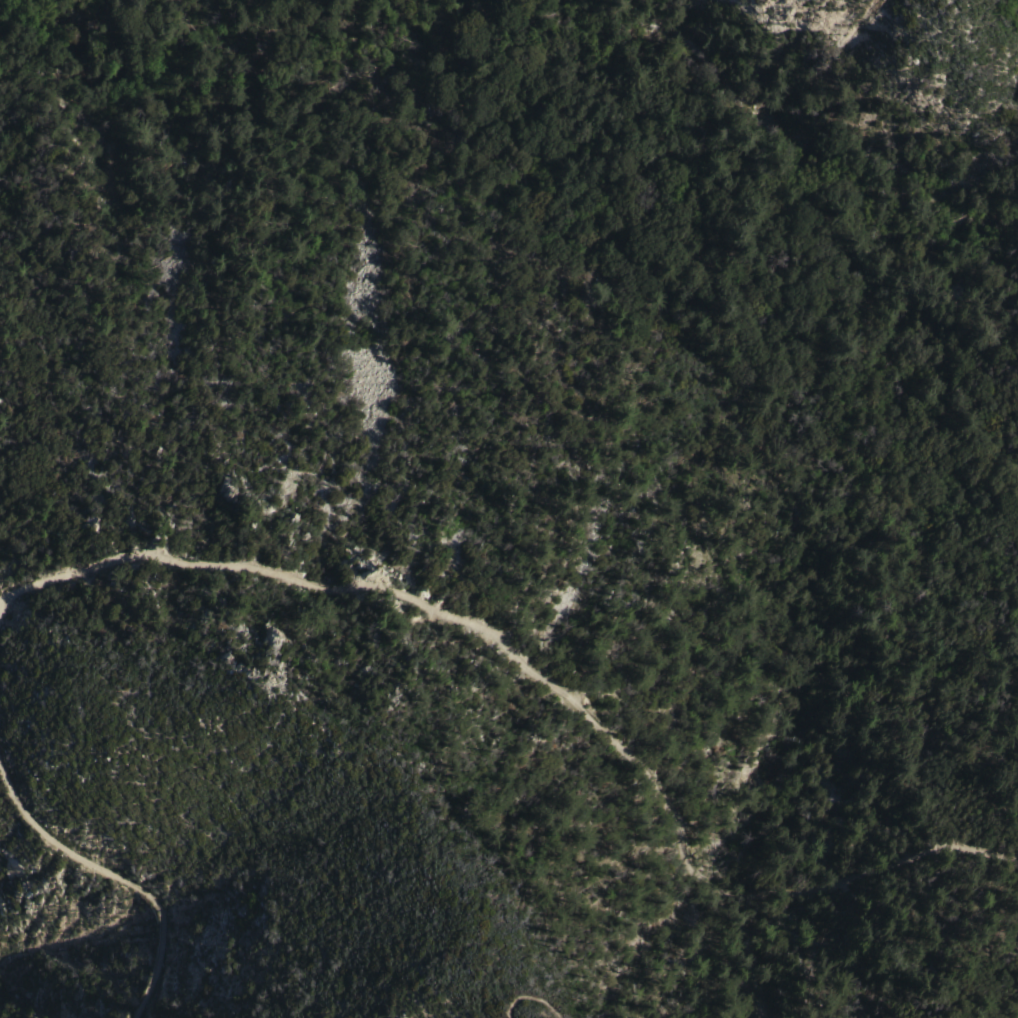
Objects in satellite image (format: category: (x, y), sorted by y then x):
road: (556, 667)
road: (115, 878)
road: (529, 1001)

